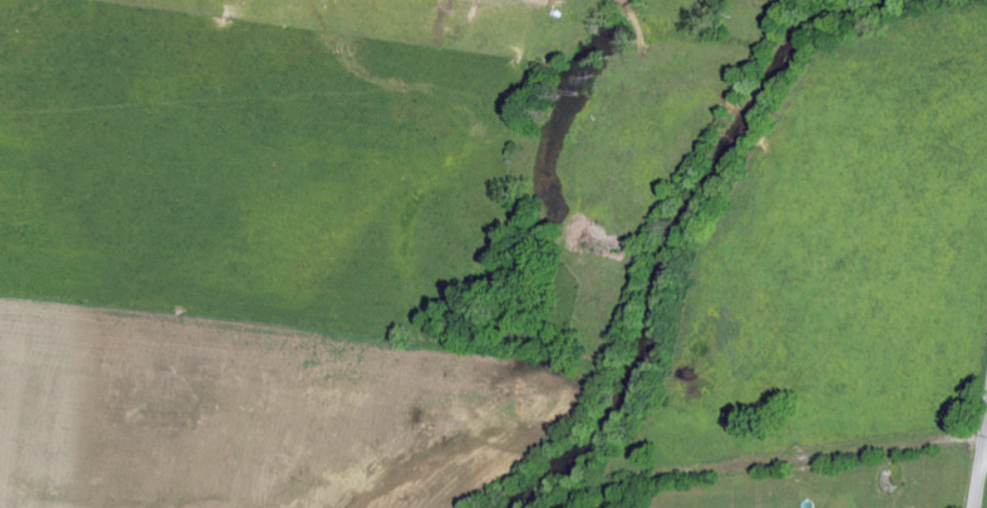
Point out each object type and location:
road: (982, 474)

